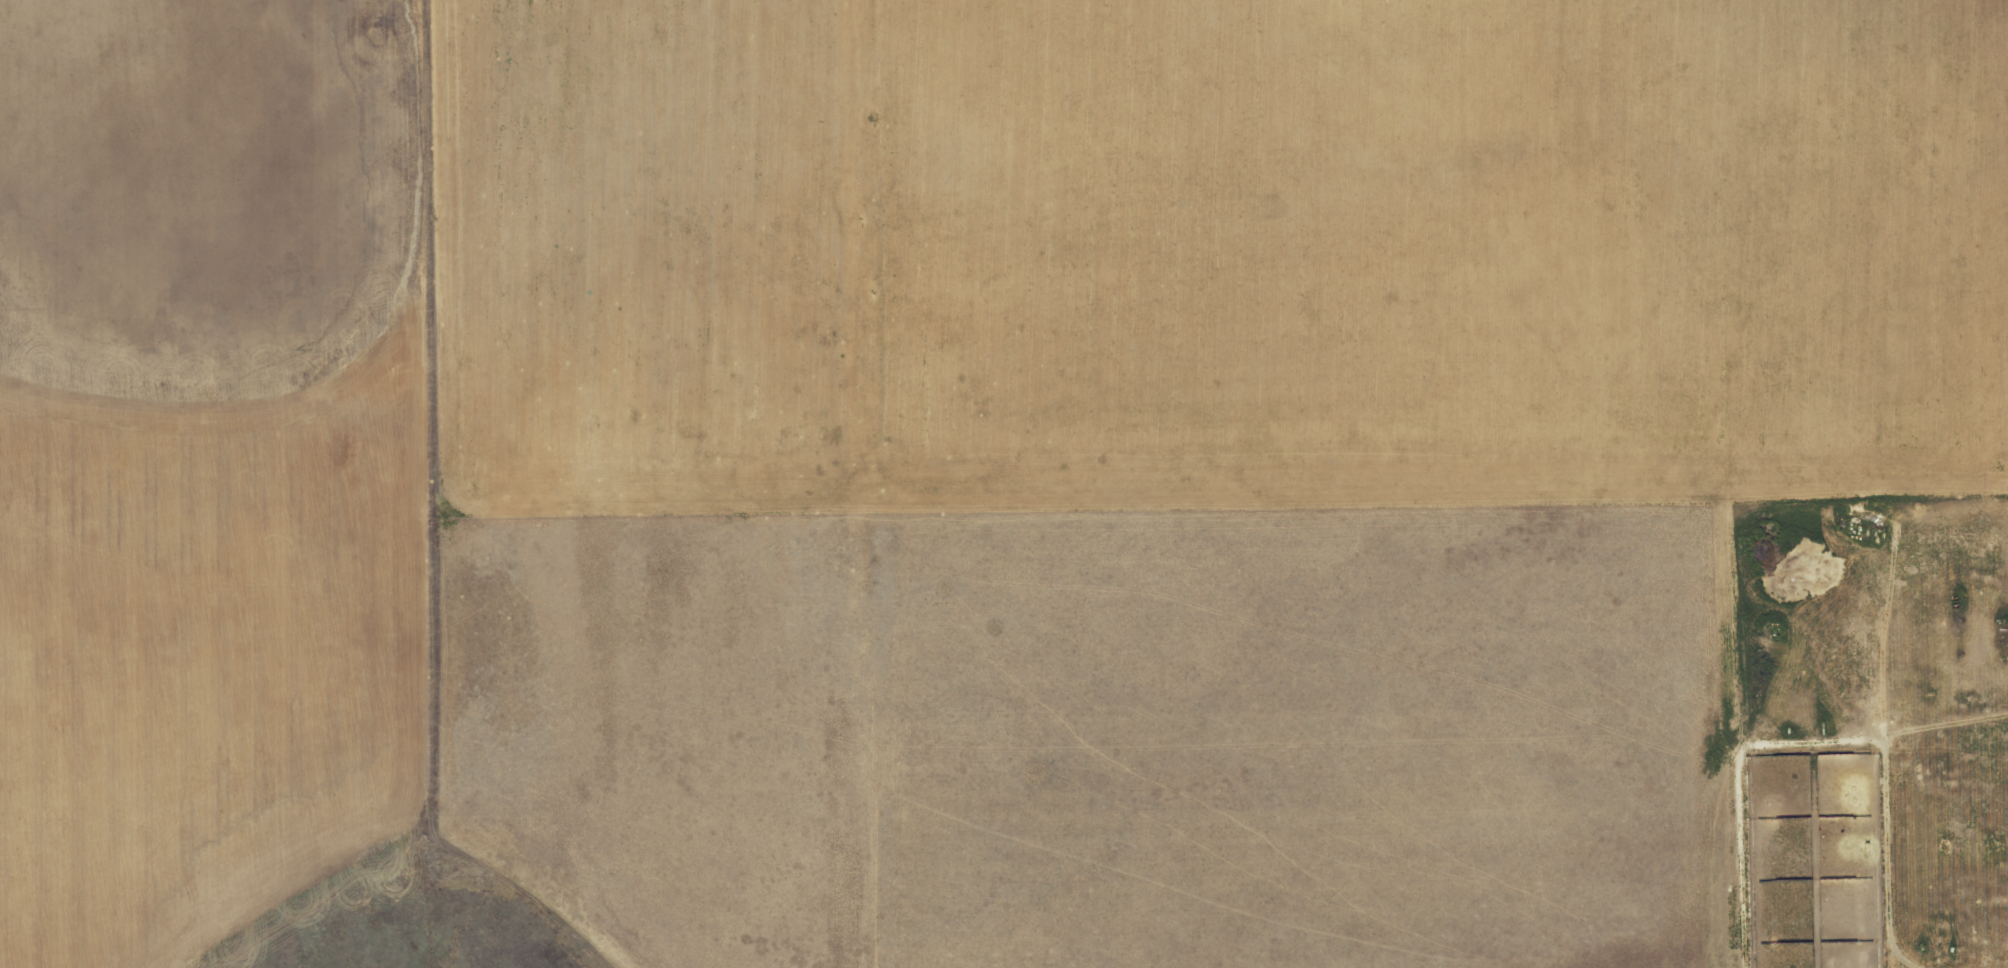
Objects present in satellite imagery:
road: (864, 484)

